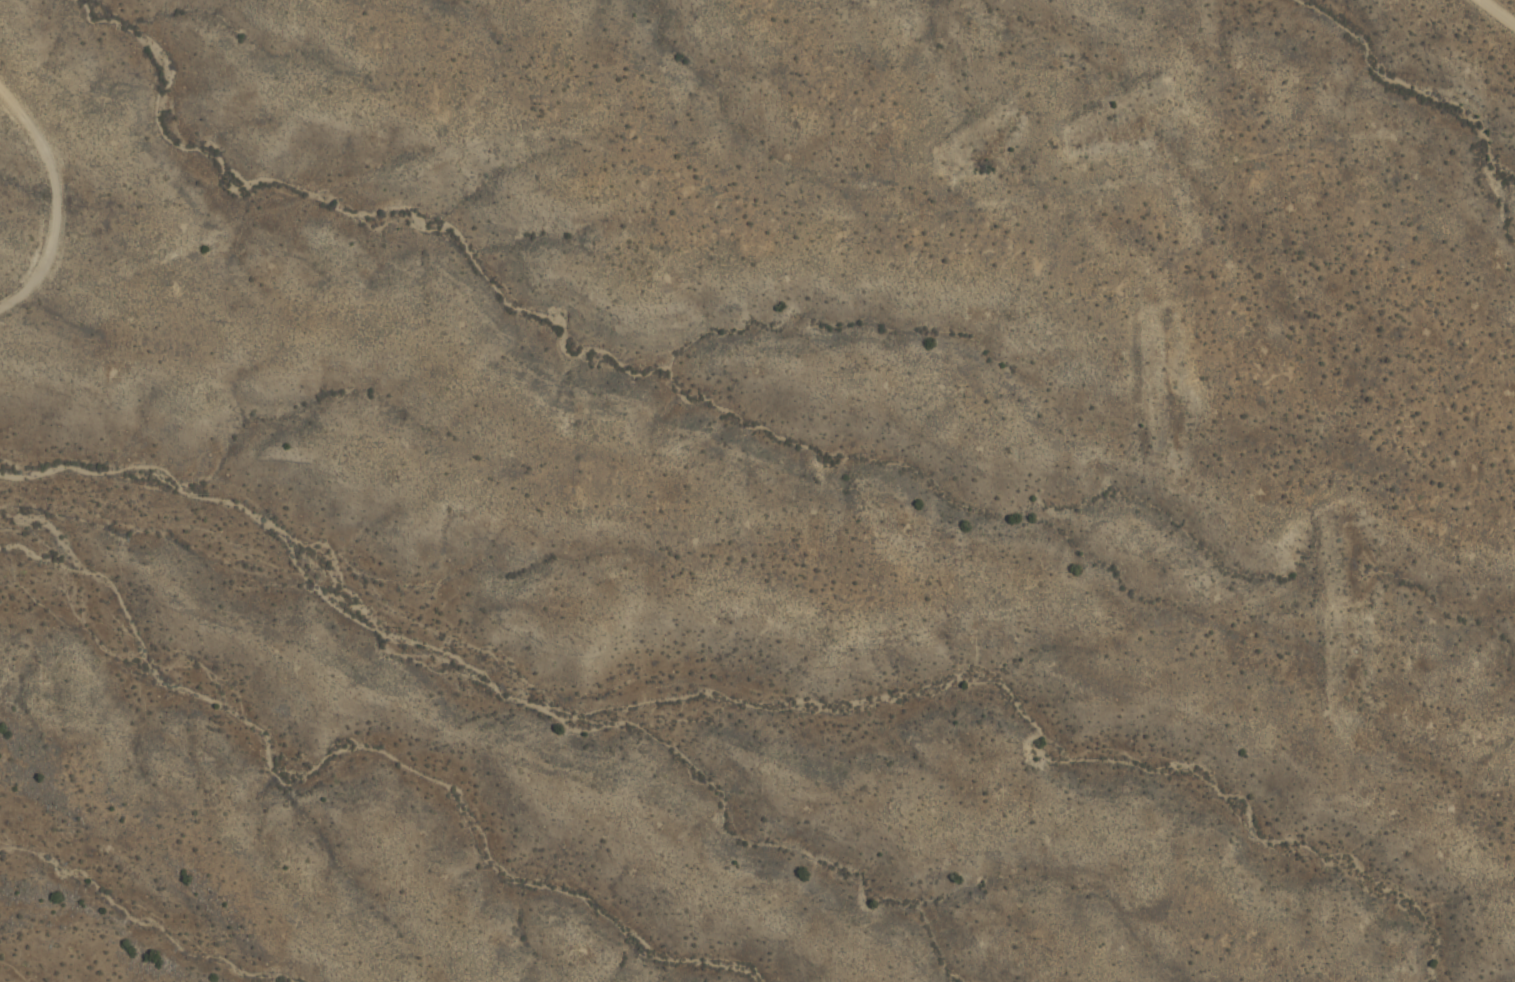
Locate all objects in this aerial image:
road: (53, 197)

